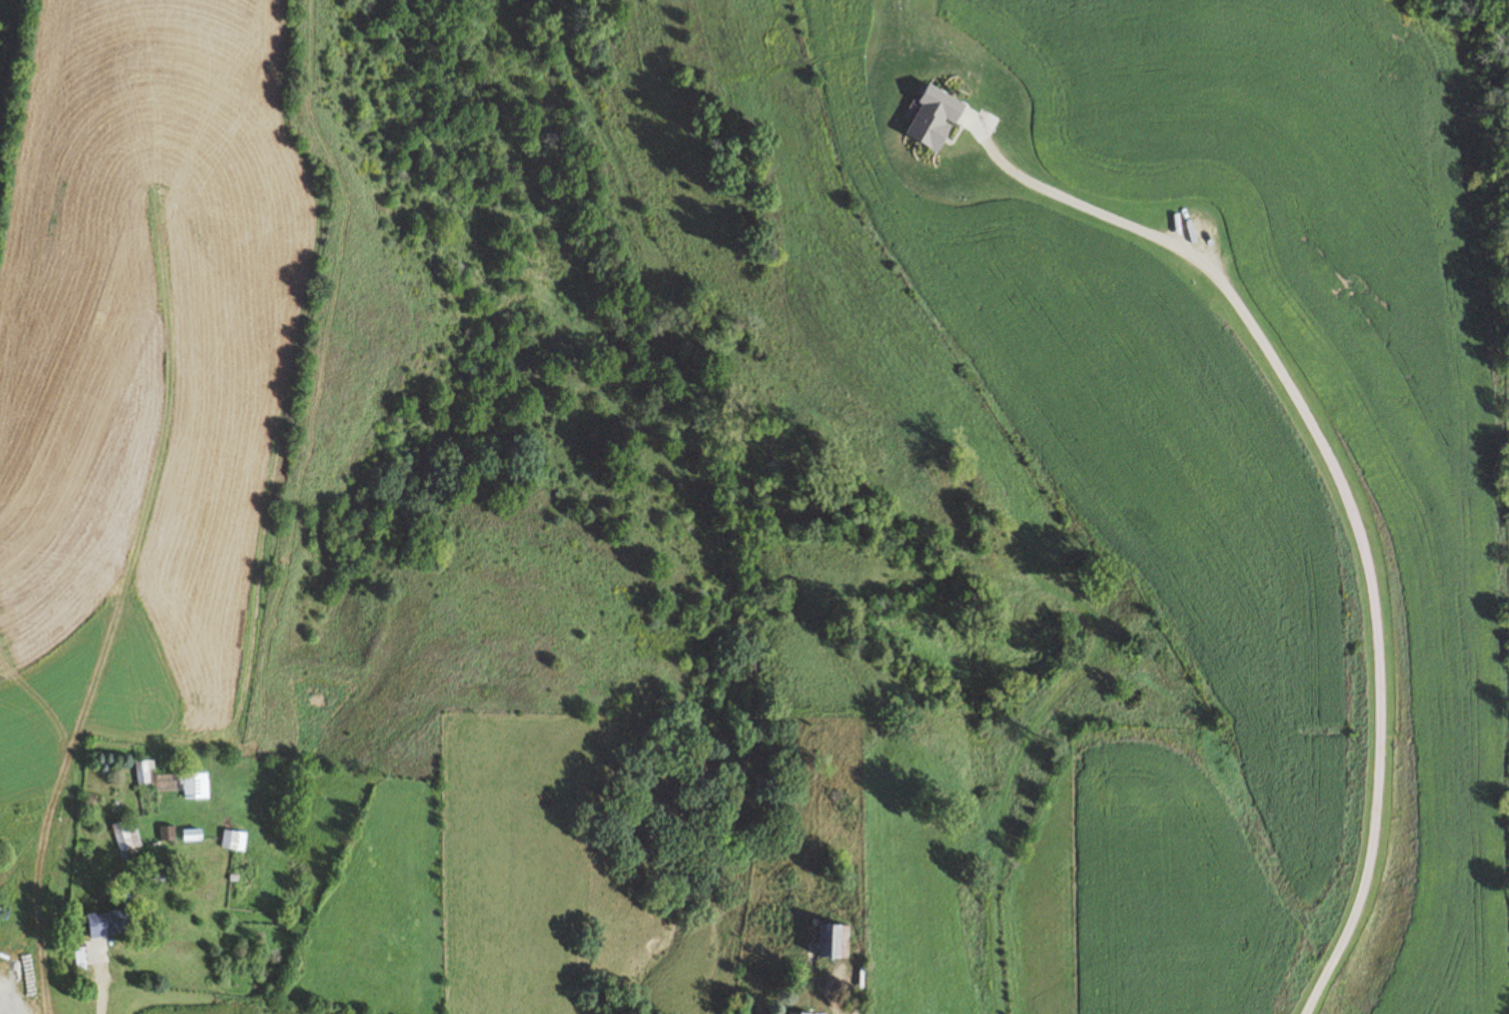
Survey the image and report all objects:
road: (1346, 499)
building: (146, 773)
building: (196, 787)
building: (169, 835)
building: (128, 837)
building: (195, 837)
building: (235, 841)
building: (113, 924)
building: (836, 943)
road: (834, 968)
road: (99, 991)
building: (795, 1013)

